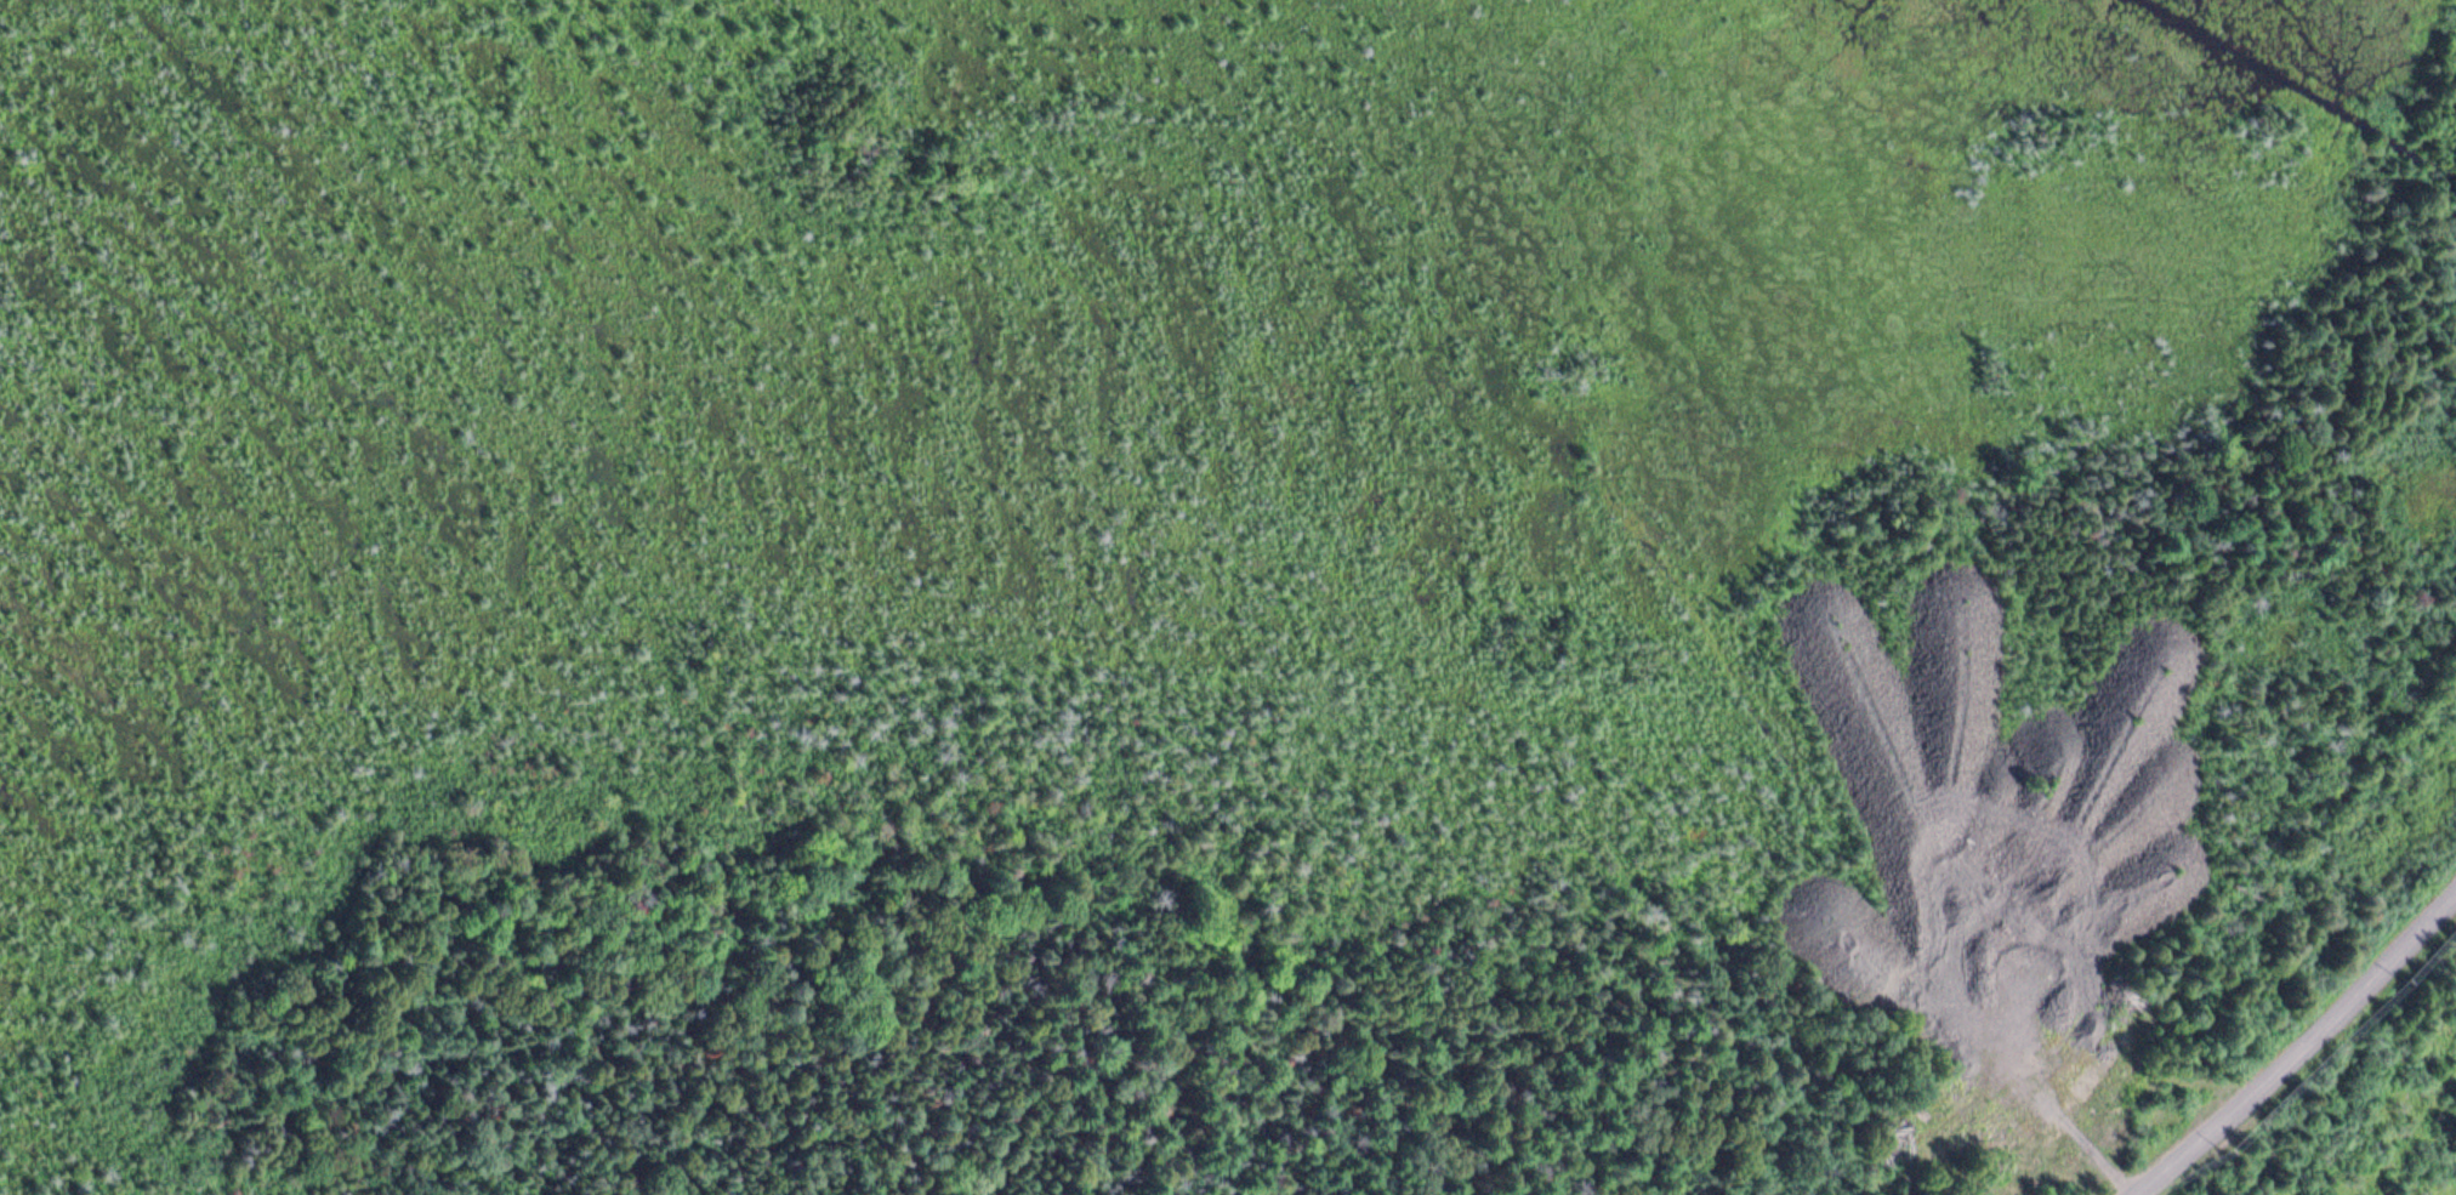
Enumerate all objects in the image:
road: (2301, 1053)

